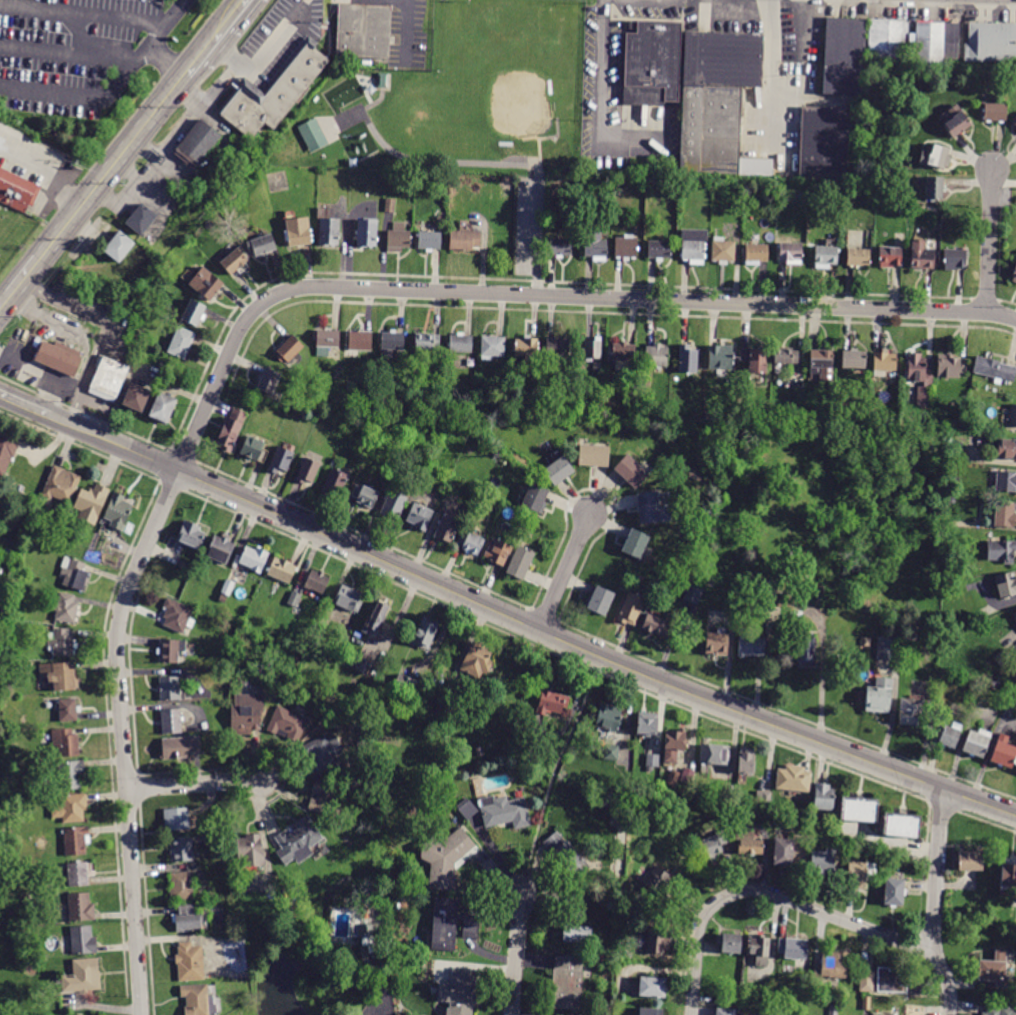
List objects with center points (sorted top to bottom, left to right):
road: (763, 0)
road: (85, 10)
road: (225, 29)
road: (82, 32)
building: (364, 32)
road: (654, 33)
park: (504, 36)
building: (993, 42)
building: (939, 45)
parking lot: (73, 52)
road: (69, 53)
building: (860, 53)
building: (652, 60)
road: (169, 62)
road: (194, 68)
park: (495, 72)
road: (774, 72)
building: (382, 80)
road: (114, 91)
park: (454, 93)
building: (276, 94)
road: (190, 95)
building: (893, 101)
building: (719, 104)
road: (197, 107)
building: (886, 109)
building: (996, 110)
road: (601, 115)
road: (641, 119)
road: (655, 119)
building: (955, 121)
building: (1015, 122)
building: (313, 135)
building: (198, 143)
building: (823, 144)
building: (934, 156)
road: (493, 163)
road: (113, 167)
road: (46, 168)
building: (443, 182)
building: (458, 184)
building: (934, 188)
building: (17, 189)
building: (850, 199)
building: (390, 205)
building: (140, 219)
building: (297, 232)
building: (328, 232)
building: (366, 233)
building: (398, 238)
building: (429, 240)
building: (464, 240)
road: (989, 241)
building: (263, 244)
building: (559, 245)
building: (693, 245)
building: (118, 246)
building: (595, 246)
building: (626, 247)
park: (19, 249)
building: (658, 250)
building: (722, 250)
building: (790, 253)
building: (755, 254)
building: (890, 256)
building: (921, 256)
building: (825, 257)
building: (858, 258)
building: (954, 259)
building: (233, 261)
building: (171, 265)
building: (1014, 274)
building: (206, 283)
road: (19, 284)
road: (267, 300)
building: (193, 312)
road: (103, 329)
building: (326, 341)
building: (359, 341)
building: (181, 343)
building: (391, 343)
building: (460, 343)
building: (425, 344)
building: (492, 347)
building: (288, 349)
building: (526, 349)
building: (557, 349)
building: (593, 349)
building: (623, 352)
building: (785, 355)
building: (58, 356)
building: (656, 356)
building: (720, 358)
building: (687, 359)
building: (755, 359)
building: (854, 359)
building: (885, 361)
building: (822, 364)
building: (597, 366)
building: (950, 366)
building: (995, 368)
building: (109, 374)
building: (919, 377)
building: (268, 381)
building: (136, 397)
road: (24, 403)
building: (162, 407)
building: (1013, 415)
building: (481, 420)
building: (230, 430)
building: (483, 435)
road: (81, 445)
building: (1006, 447)
building: (254, 449)
building: (6, 452)
building: (594, 455)
building: (280, 460)
building: (333, 464)
building: (558, 470)
building: (307, 471)
building: (631, 471)
building: (957, 477)
building: (334, 482)
building: (1006, 482)
building: (61, 484)
road: (173, 486)
building: (930, 492)
building: (364, 495)
building: (535, 498)
building: (952, 500)
building: (91, 503)
building: (393, 505)
building: (651, 508)
building: (118, 510)
building: (1004, 514)
building: (419, 516)
building: (448, 525)
building: (191, 535)
building: (470, 543)
building: (635, 543)
building: (220, 549)
building: (1001, 551)
building: (498, 553)
building: (254, 558)
building: (520, 562)
road: (565, 569)
building: (281, 570)
building: (74, 574)
building: (711, 581)
building: (317, 582)
building: (1006, 586)
building: (227, 587)
building: (770, 590)
building: (693, 594)
building: (223, 598)
building: (294, 599)
building: (348, 599)
building: (783, 600)
building: (600, 601)
building: (701, 604)
building: (730, 605)
building: (65, 607)
building: (630, 609)
building: (746, 611)
building: (176, 615)
building: (377, 616)
building: (1014, 616)
building: (324, 624)
road: (528, 625)
building: (656, 626)
building: (424, 634)
building: (62, 643)
building: (717, 644)
building: (752, 646)
building: (270, 647)
building: (888, 649)
building: (170, 650)
building: (805, 651)
road: (553, 653)
building: (1003, 658)
building: (477, 660)
building: (294, 661)
building: (362, 666)
building: (4, 671)
building: (59, 676)
building: (960, 682)
building: (995, 683)
building: (406, 684)
building: (169, 688)
building: (879, 696)
building: (552, 702)
flagpole: (853, 704)
building: (443, 707)
building: (68, 710)
building: (247, 711)
building: (911, 711)
building: (609, 717)
building: (171, 721)
building: (287, 723)
building: (647, 724)
building: (947, 733)
building: (66, 742)
building: (674, 744)
building: (975, 744)
building: (179, 747)
building: (1004, 751)
building: (610, 752)
building: (322, 753)
building: (714, 754)
building: (652, 760)
building: (746, 761)
building: (71, 774)
building: (673, 778)
building: (793, 779)
road: (552, 781)
road: (195, 784)
building: (323, 796)
building: (763, 797)
building: (823, 797)
building: (607, 804)
road: (943, 806)
building: (71, 808)
building: (859, 809)
building: (469, 810)
building: (646, 812)
building: (506, 813)
building: (177, 819)
building: (901, 825)
building: (335, 826)
building: (729, 828)
building: (75, 841)
building: (298, 841)
building: (748, 843)
building: (5, 845)
road: (889, 845)
building: (711, 846)
building: (181, 849)
building: (251, 850)
building: (783, 852)
building: (566, 854)
building: (447, 858)
building: (970, 861)
building: (822, 862)
building: (78, 874)
building: (860, 875)
building: (1008, 878)
building: (659, 882)
building: (181, 886)
building: (894, 892)
road: (768, 894)
building: (375, 895)
building: (27, 899)
road: (934, 904)
building: (78, 908)
building: (630, 910)
building: (187, 919)
building: (575, 920)
building: (451, 924)
building: (373, 939)
building: (82, 940)
building: (658, 942)
building: (730, 943)
building: (793, 948)
building: (759, 950)
road: (515, 955)
building: (189, 962)
building: (831, 968)
building: (994, 970)
building: (81, 976)
building: (866, 981)
building: (567, 982)
building: (896, 982)
building: (652, 987)
building: (459, 992)
road: (382, 994)
building: (199, 999)
building: (866, 1003)
building: (800, 1009)
building: (833, 1010)
building: (1001, 1011)
building: (651, 1012)
building: (724, 1012)
building: (748, 1014)
building: (789, 1014)

